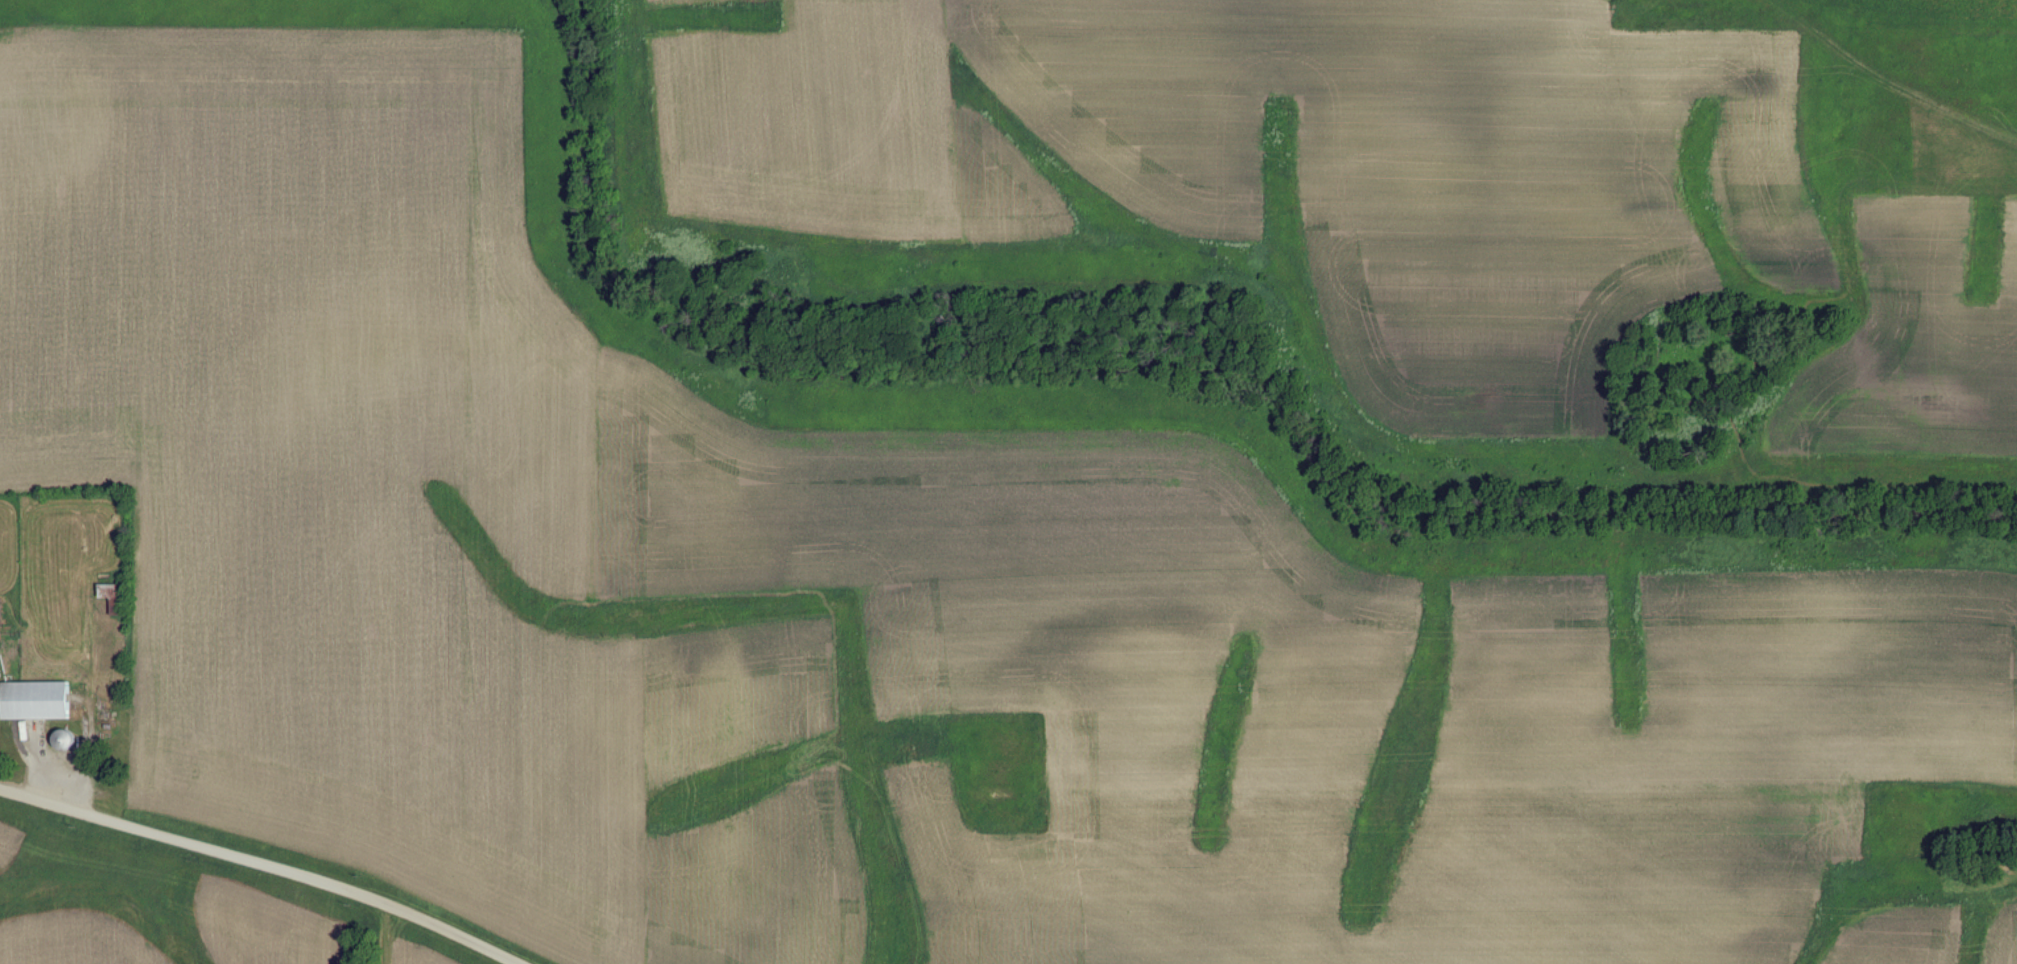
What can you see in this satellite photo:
road: (14, 583)
road: (261, 864)

